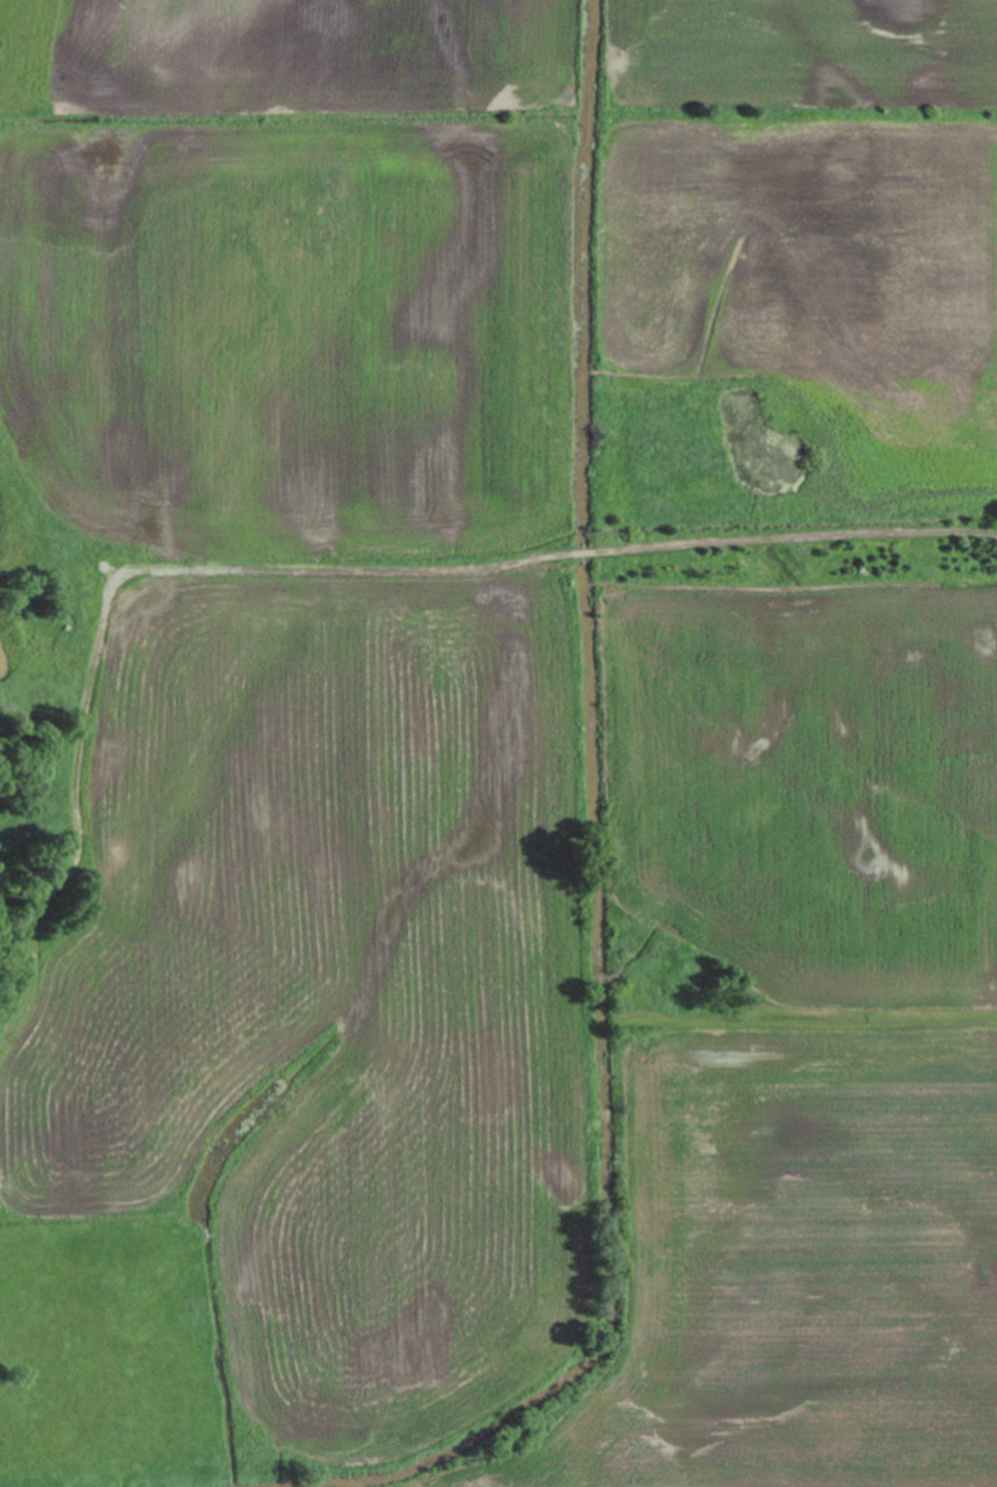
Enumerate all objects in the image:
building: (584, 552)

